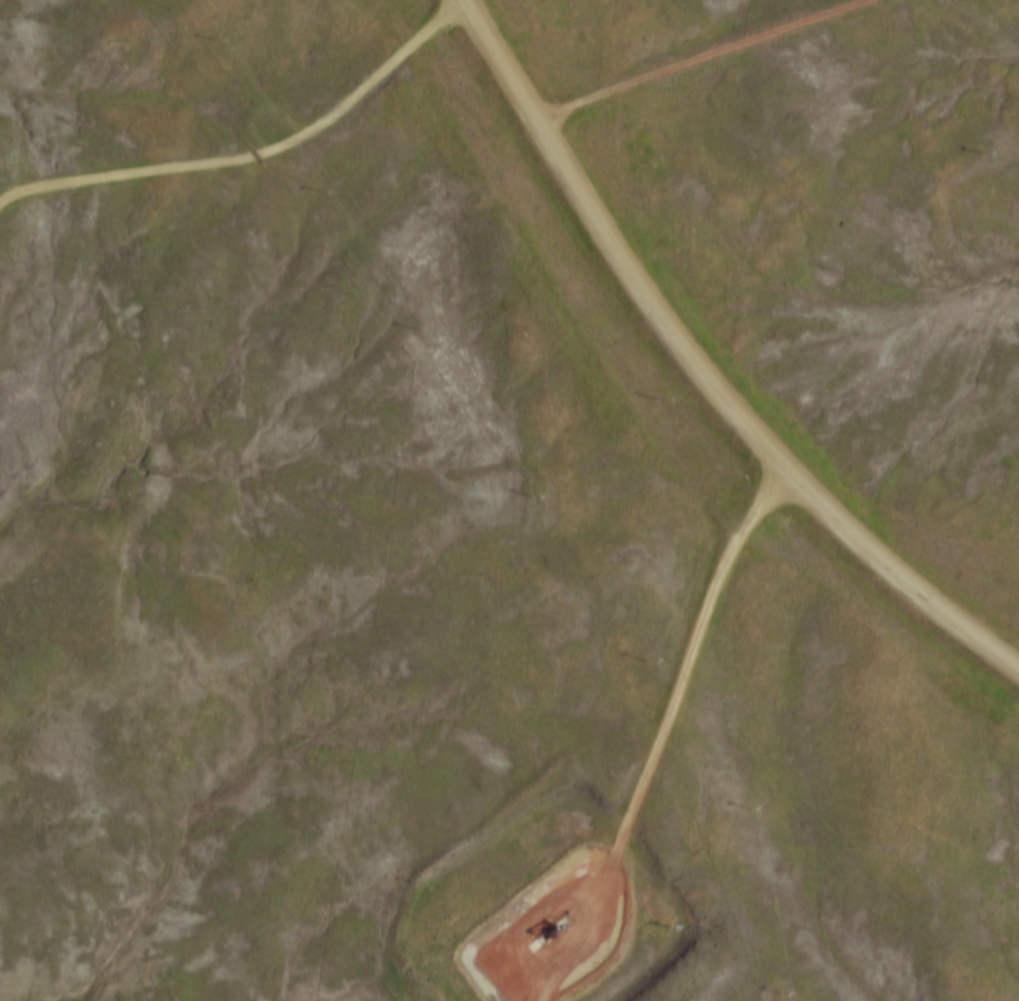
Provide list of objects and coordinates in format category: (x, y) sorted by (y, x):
road: (701, 60)
road: (254, 154)
road: (700, 370)
road: (663, 734)
petroleum well: (610, 897)
petroleum well: (546, 933)

